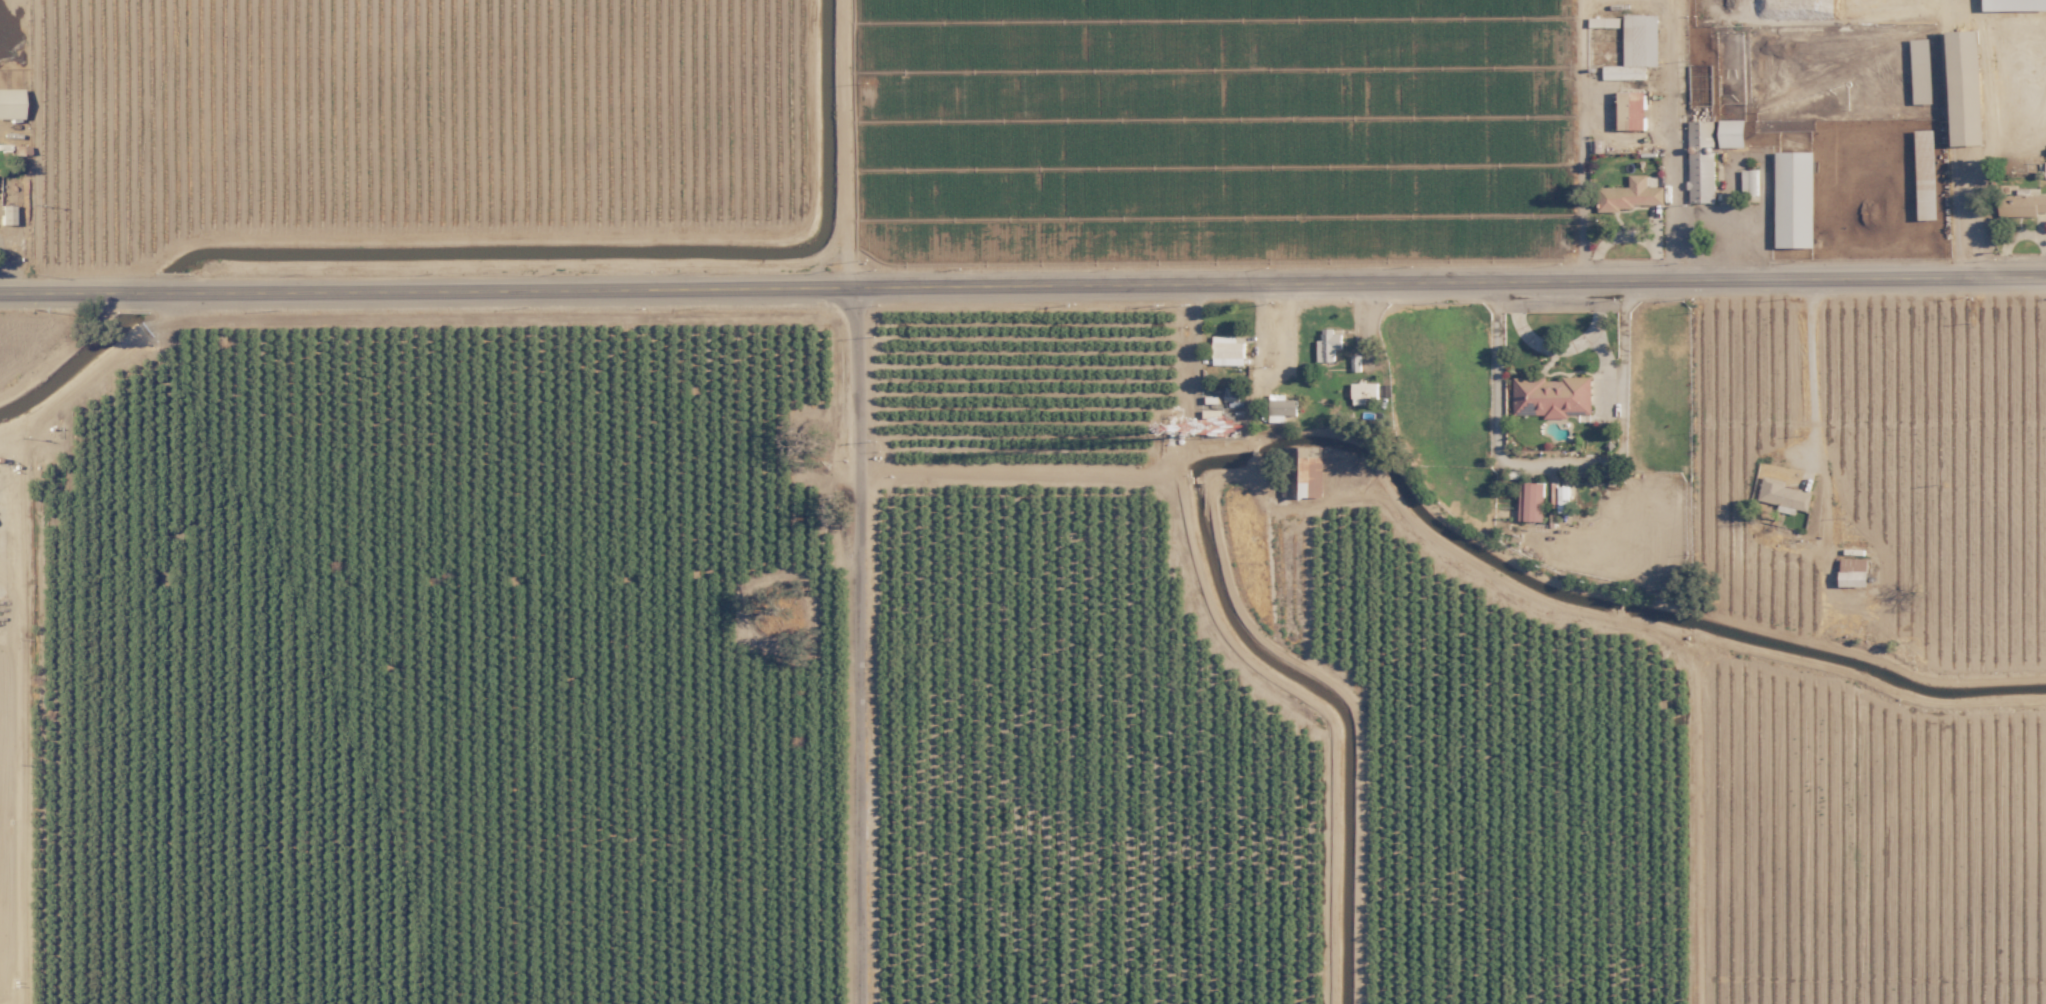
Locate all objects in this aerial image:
building: (1635, 48)
building: (1920, 71)
building: (1964, 86)
building: (8, 104)
building: (1629, 112)
crop: (1451, 125)
building: (1730, 133)
road: (1579, 134)
road: (1673, 134)
road: (846, 138)
building: (1699, 162)
building: (2045, 176)
building: (1748, 182)
building: (1630, 194)
building: (1793, 200)
building: (2021, 204)
road: (1974, 215)
road: (1023, 274)
road: (1369, 318)
road: (1275, 328)
road: (1530, 340)
road: (1602, 340)
building: (1327, 345)
building: (1225, 350)
road: (1810, 363)
road: (1267, 378)
building: (1361, 391)
building: (1549, 396)
building: (1279, 407)
building: (1530, 487)
road: (850, 640)
crop: (1281, 645)
crop: (420, 653)

